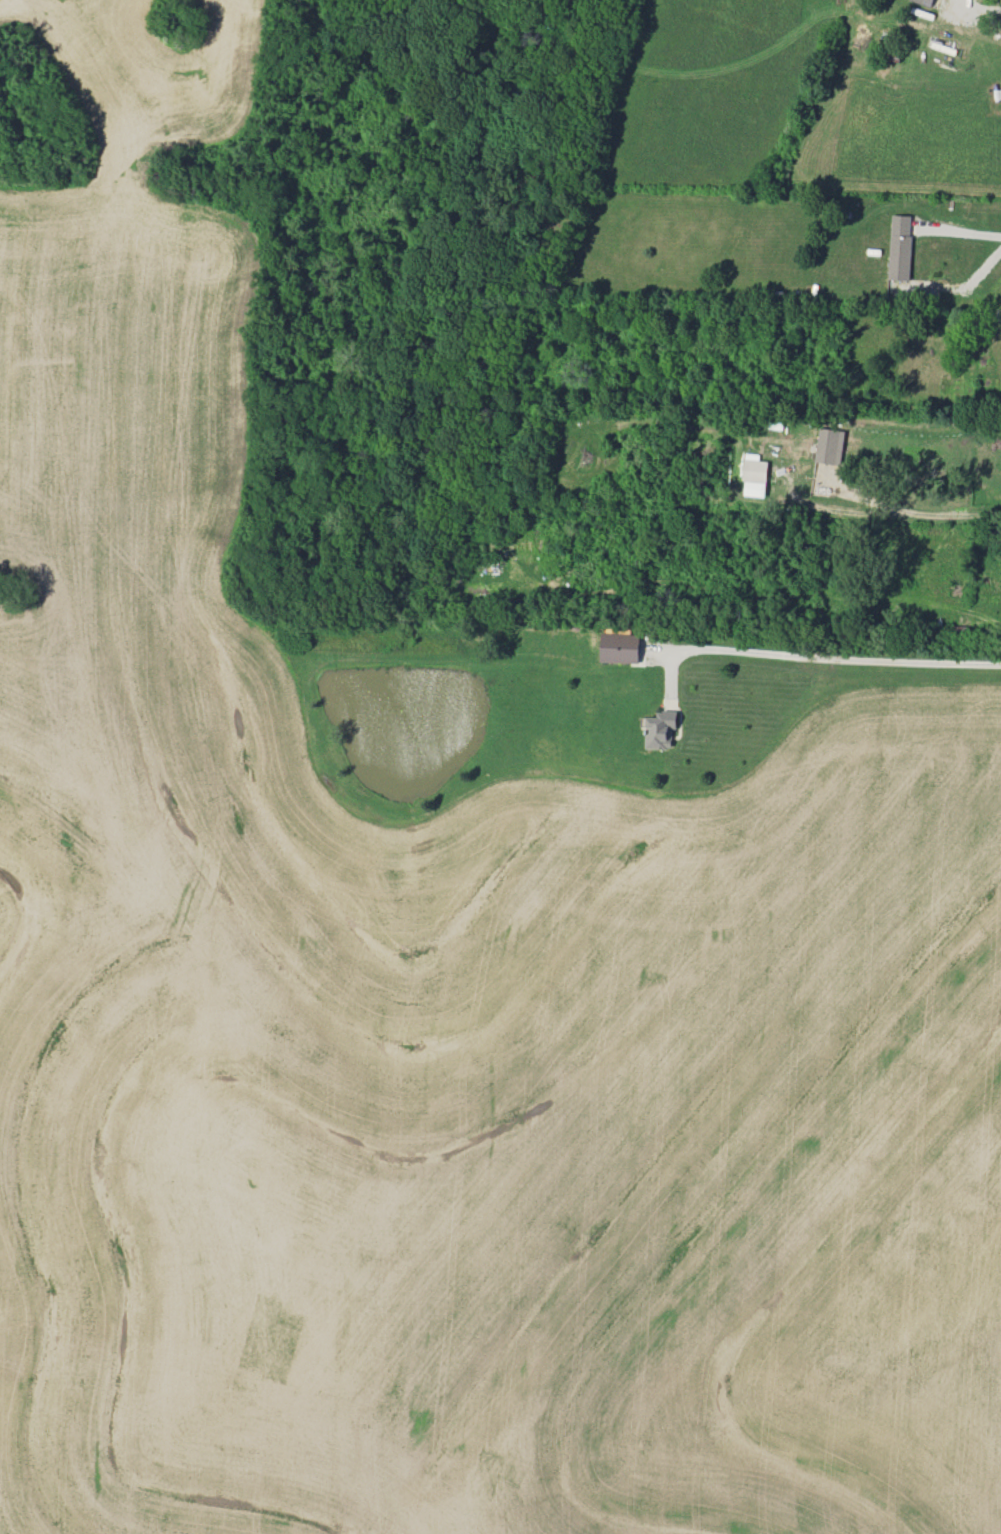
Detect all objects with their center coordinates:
building: (925, 2)
road: (993, 7)
road: (962, 231)
building: (900, 247)
crop: (129, 309)
building: (999, 314)
building: (829, 446)
building: (754, 476)
road: (928, 509)
building: (619, 648)
road: (828, 654)
building: (660, 729)
crop: (488, 1118)

